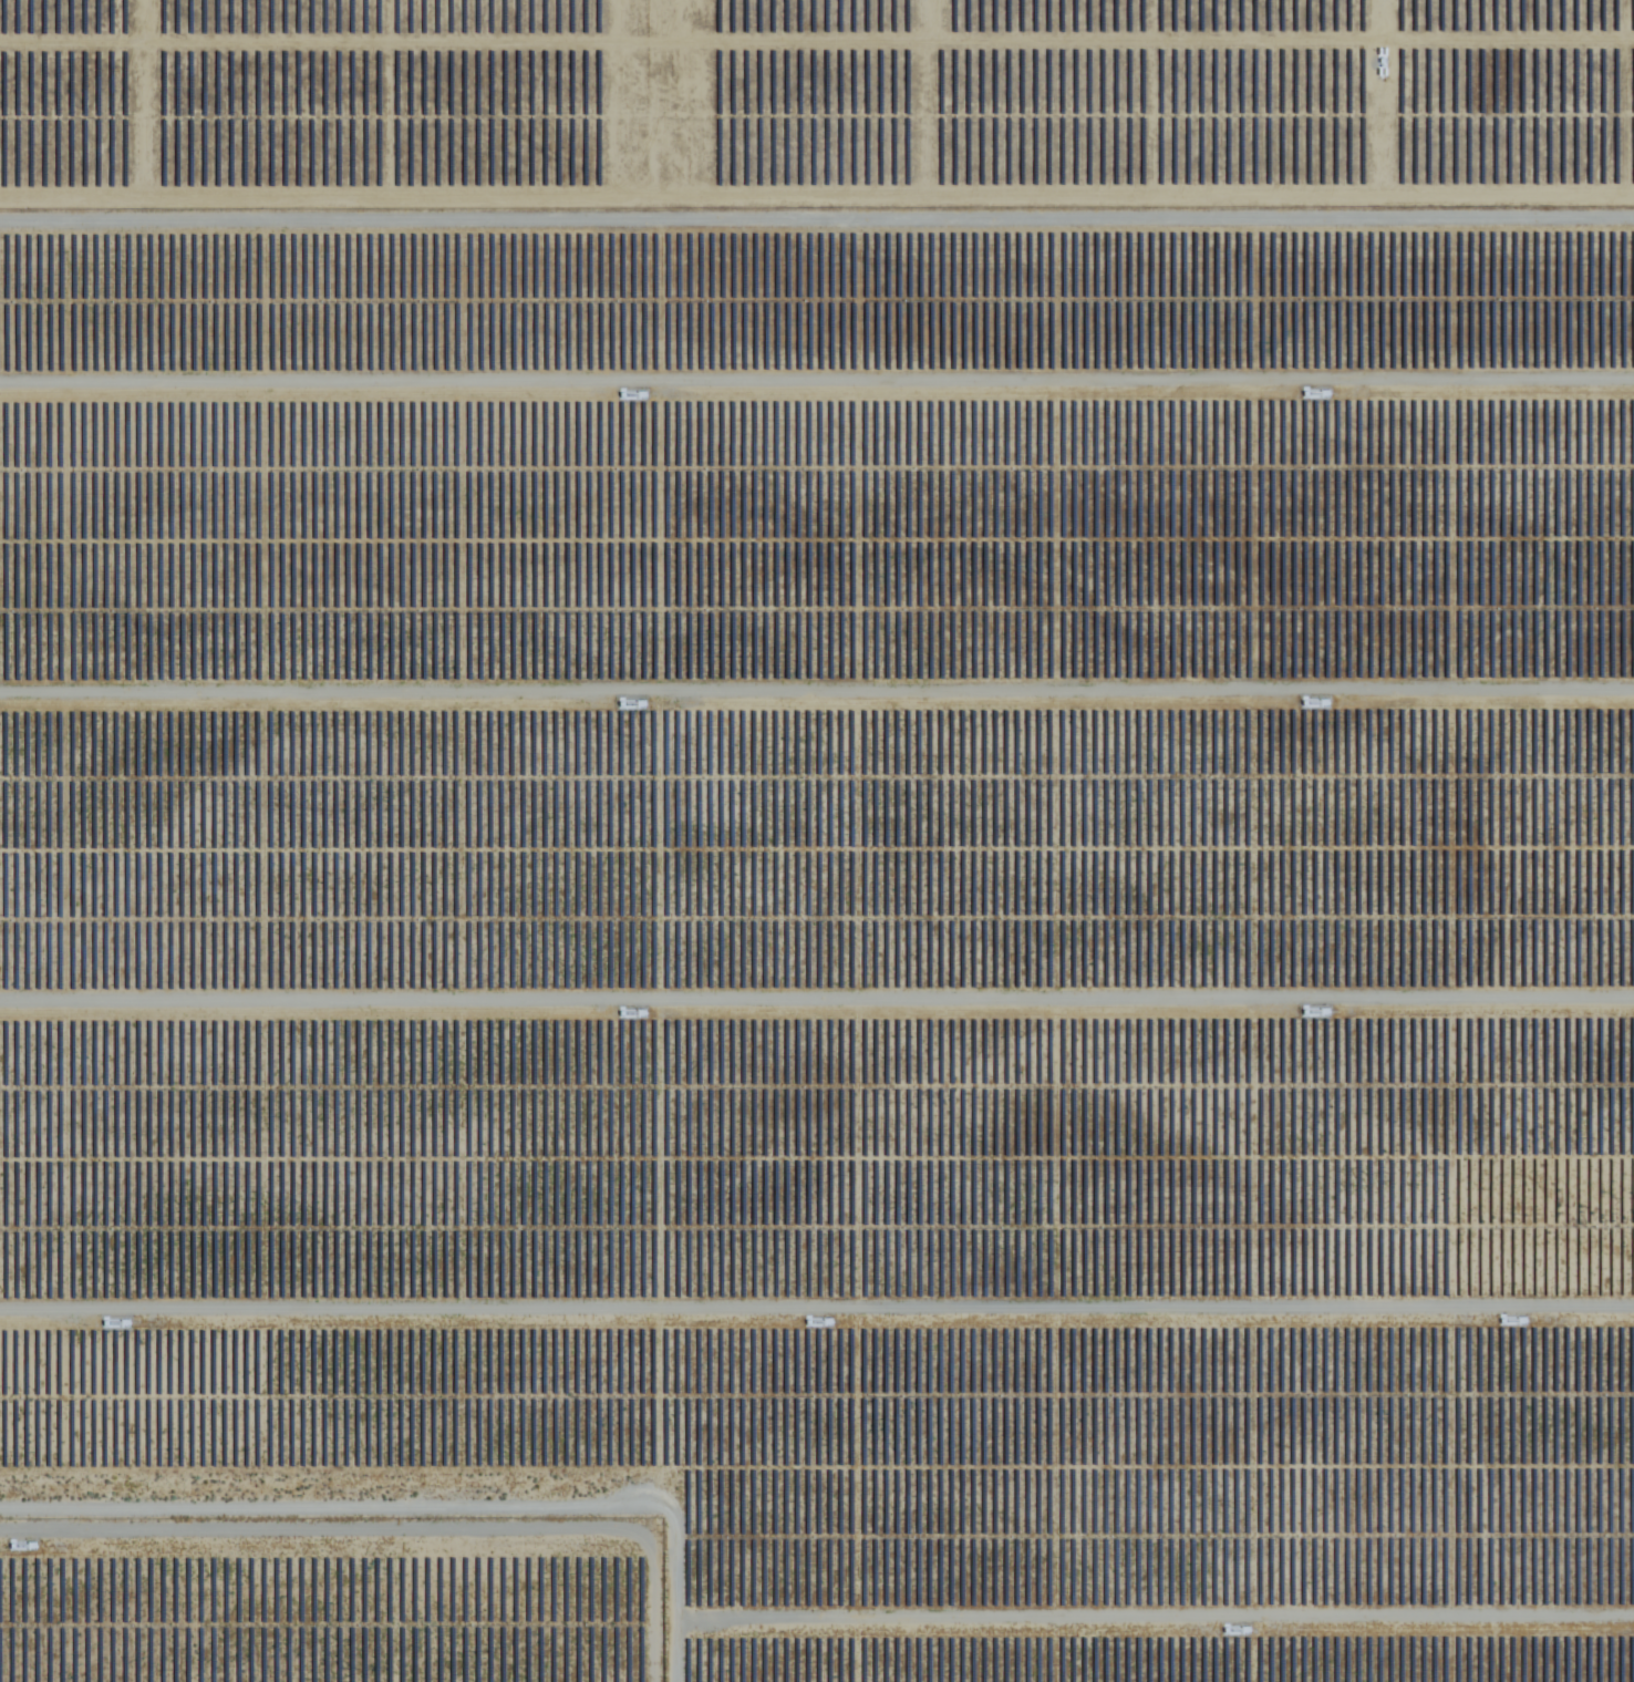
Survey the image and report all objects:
solar farm: (815, 101)
solar farm: (839, 911)
solar farm: (328, 1600)

